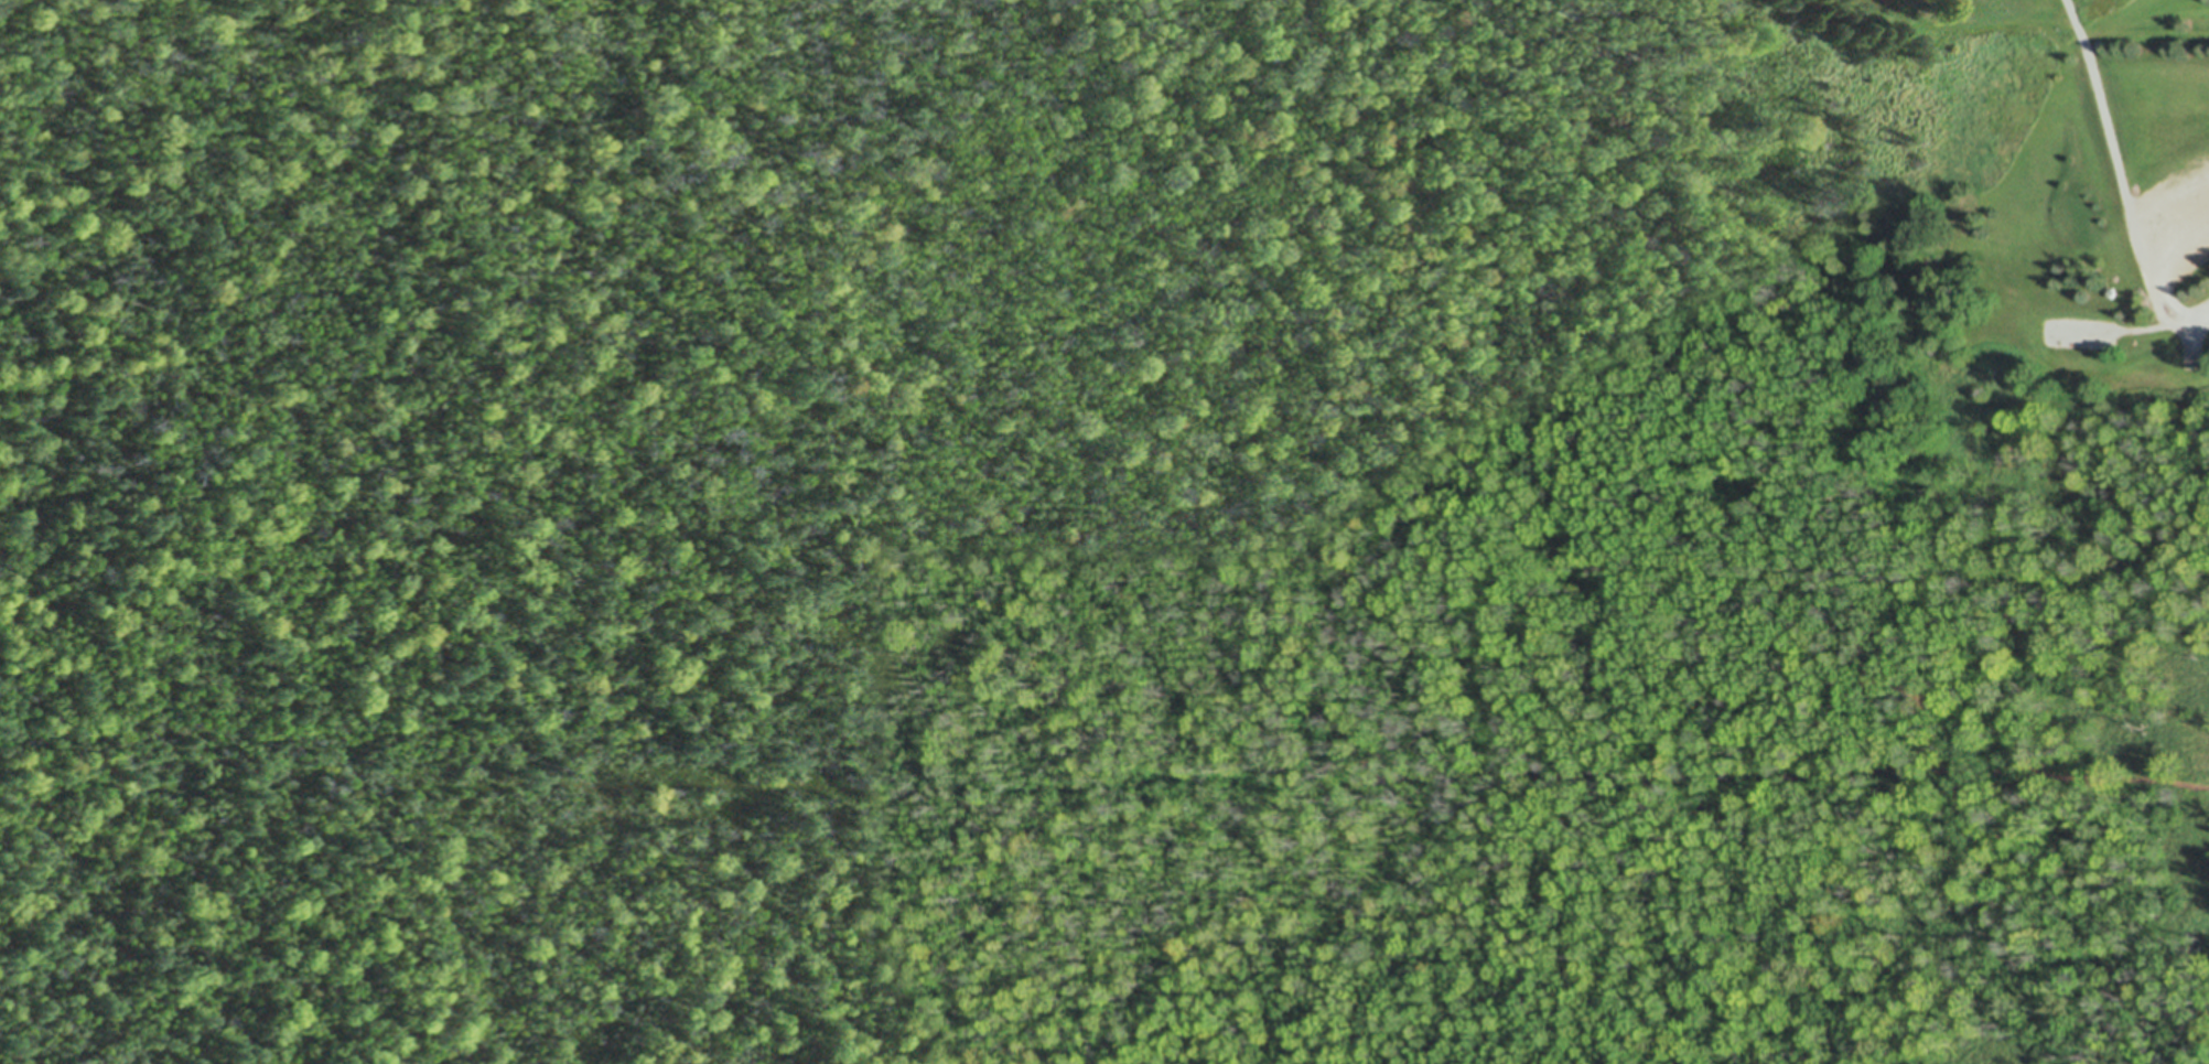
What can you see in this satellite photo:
road: (2144, 320)

